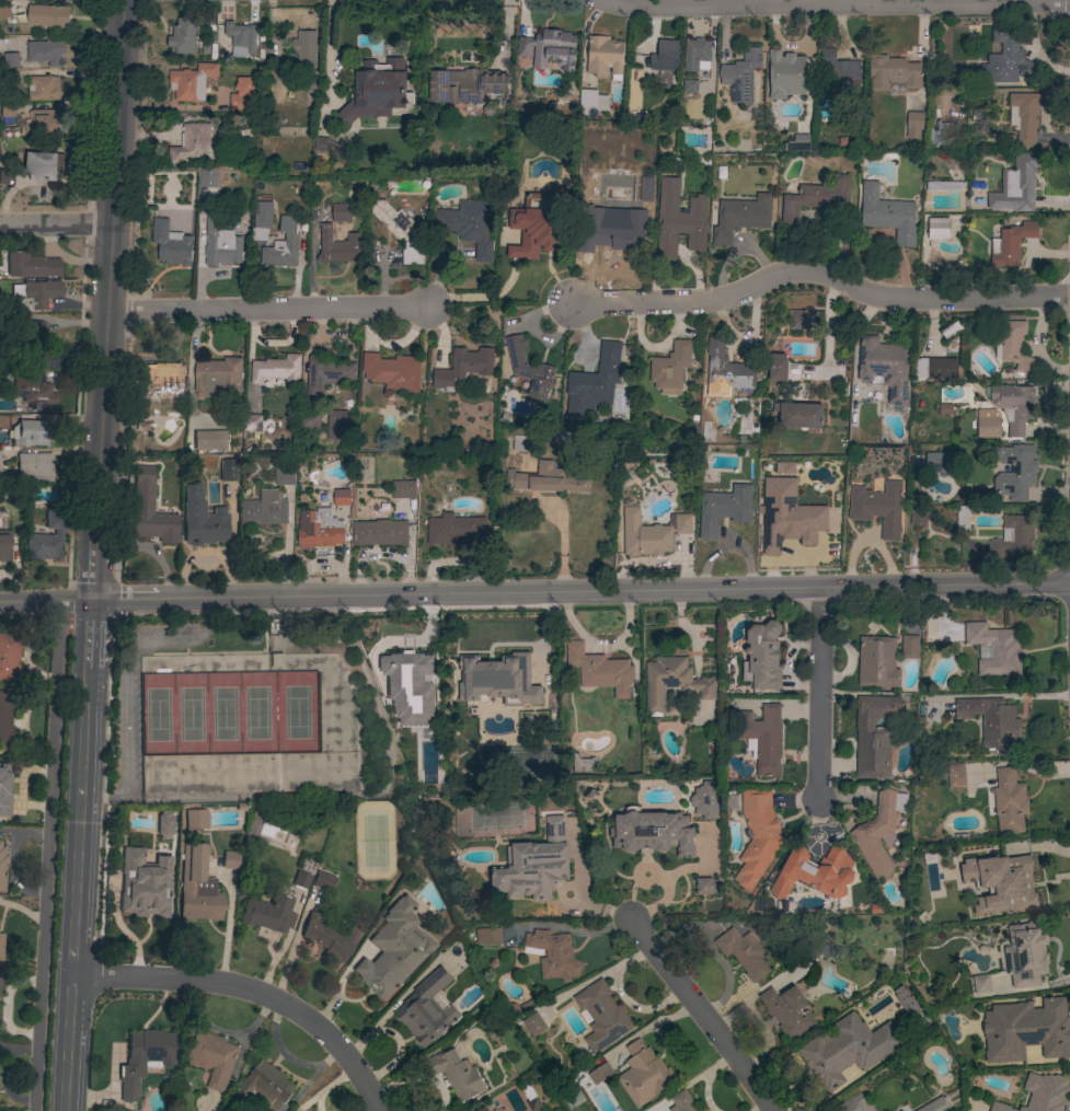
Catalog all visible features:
road: (751, 2)
road: (835, 4)
building: (4, 9)
building: (47, 16)
building: (183, 36)
building: (239, 39)
road: (329, 47)
building: (304, 48)
building: (549, 49)
building: (43, 51)
building: (695, 55)
building: (665, 56)
building: (603, 57)
building: (10, 60)
building: (1008, 60)
building: (893, 72)
building: (839, 73)
building: (785, 74)
building: (740, 76)
building: (191, 82)
building: (465, 85)
building: (690, 86)
building: (44, 89)
building: (378, 93)
building: (242, 95)
building: (591, 104)
building: (9, 115)
building: (779, 116)
building: (1024, 116)
building: (45, 121)
building: (913, 125)
building: (939, 135)
building: (796, 143)
building: (193, 144)
building: (321, 144)
building: (43, 166)
building: (5, 176)
building: (206, 178)
building: (1016, 185)
building: (944, 186)
building: (817, 198)
building: (648, 206)
building: (341, 213)
building: (887, 215)
building: (740, 217)
building: (203, 219)
building: (261, 220)
building: (678, 220)
building: (539, 224)
building: (469, 225)
building: (940, 225)
road: (57, 228)
building: (398, 230)
building: (612, 234)
building: (170, 244)
building: (1010, 244)
building: (283, 245)
building: (337, 247)
building: (222, 251)
building: (31, 265)
road: (112, 267)
road: (817, 274)
building: (35, 294)
road: (478, 297)
road: (267, 310)
building: (802, 319)
building: (35, 328)
building: (951, 329)
building: (1014, 347)
building: (43, 359)
building: (463, 367)
building: (884, 367)
building: (776, 368)
building: (935, 368)
building: (529, 369)
building: (670, 369)
building: (276, 370)
building: (726, 371)
building: (393, 372)
building: (327, 373)
building: (158, 378)
building: (218, 379)
building: (594, 382)
building: (33, 392)
building: (1013, 406)
building: (944, 410)
building: (309, 414)
building: (798, 416)
building: (3, 421)
building: (252, 423)
building: (145, 424)
building: (988, 424)
building: (336, 425)
building: (31, 433)
building: (210, 440)
building: (526, 443)
building: (937, 463)
building: (35, 466)
building: (783, 470)
building: (227, 471)
building: (1014, 472)
building: (285, 476)
building: (548, 479)
building: (230, 482)
building: (403, 489)
building: (8, 491)
building: (342, 497)
building: (878, 508)
building: (149, 509)
building: (264, 509)
building: (724, 510)
building: (787, 516)
building: (918, 517)
building: (202, 518)
building: (962, 518)
building: (679, 525)
building: (452, 528)
building: (319, 529)
building: (380, 533)
building: (1013, 536)
building: (47, 537)
building: (648, 539)
building: (4, 546)
road: (95, 568)
road: (534, 593)
road: (91, 635)
building: (910, 647)
building: (994, 649)
building: (763, 656)
building: (9, 657)
building: (877, 662)
building: (407, 668)
building: (600, 670)
building: (511, 671)
building: (672, 682)
road: (125, 684)
road: (89, 685)
parking lot: (137, 685)
road: (817, 695)
park: (229, 710)
park: (251, 711)
building: (5, 720)
building: (992, 722)
building: (873, 736)
building: (762, 738)
building: (582, 764)
building: (956, 775)
building: (4, 783)
building: (705, 800)
building: (1009, 801)
building: (195, 819)
building: (163, 826)
building: (252, 826)
building: (653, 832)
building: (878, 832)
building: (757, 836)
building: (165, 837)
road: (79, 841)
road: (43, 856)
building: (230, 859)
building: (534, 865)
building: (1, 869)
building: (816, 872)
building: (300, 880)
building: (322, 881)
building: (1001, 883)
building: (197, 886)
building: (706, 887)
building: (142, 894)
building: (268, 914)
building: (487, 936)
building: (331, 937)
building: (0, 946)
building: (819, 951)
building: (744, 952)
building: (554, 954)
building: (1026, 954)
building: (380, 972)
building: (0, 982)
building: (981, 984)
road: (248, 992)
building: (519, 1008)
building: (426, 1009)
building: (787, 1010)
building: (601, 1015)
road: (700, 1015)
building: (534, 1025)
building: (1038, 1028)
building: (896, 1042)
road: (67, 1044)
building: (211, 1058)
building: (829, 1058)
building: (143, 1060)
building: (599, 1073)
building: (456, 1074)
building: (643, 1074)
building: (265, 1085)
building: (1048, 1092)
building: (531, 1098)
building: (681, 1102)
building: (853, 1104)
building: (1000, 1104)
building: (935, 1106)
building: (482, 1109)
building: (1023, 1109)
building: (1035, 1110)

